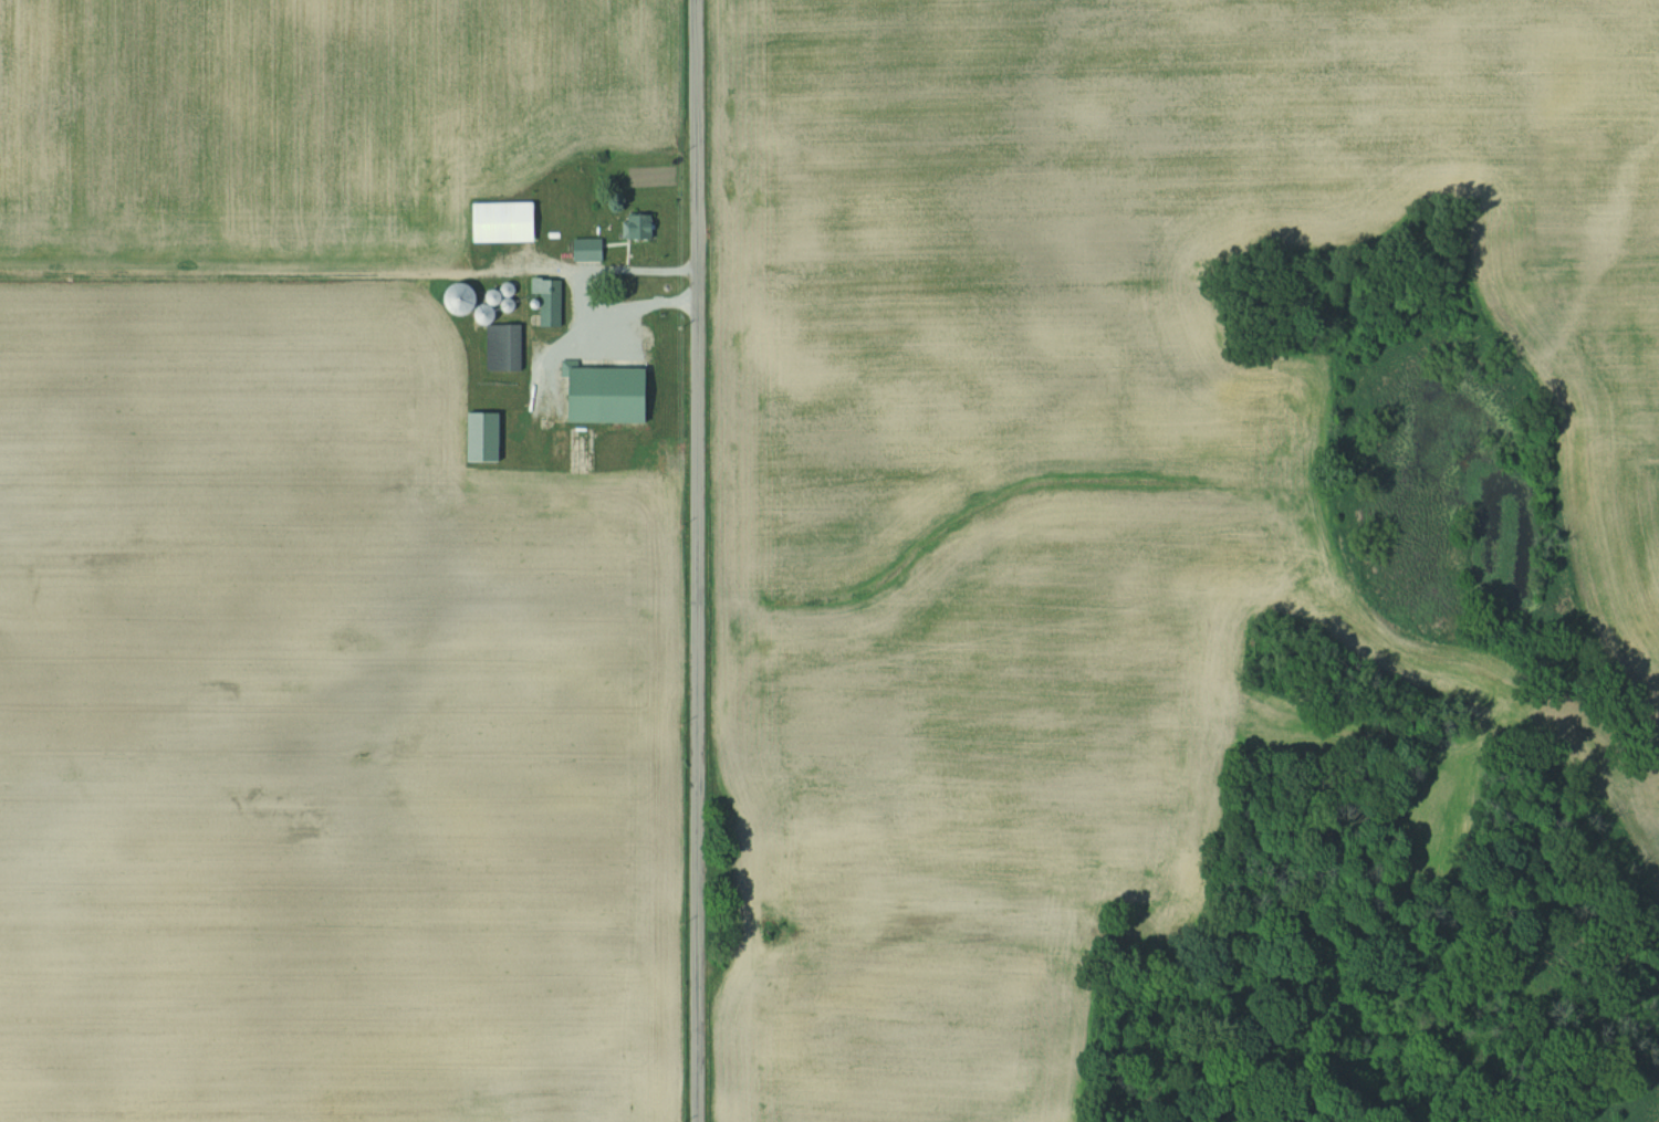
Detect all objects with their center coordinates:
building: (505, 221)
building: (640, 227)
building: (588, 249)
road: (578, 283)
building: (466, 298)
building: (551, 300)
building: (505, 347)
building: (609, 388)
building: (484, 437)
crop: (707, 520)
road: (698, 560)
crop: (1628, 777)

